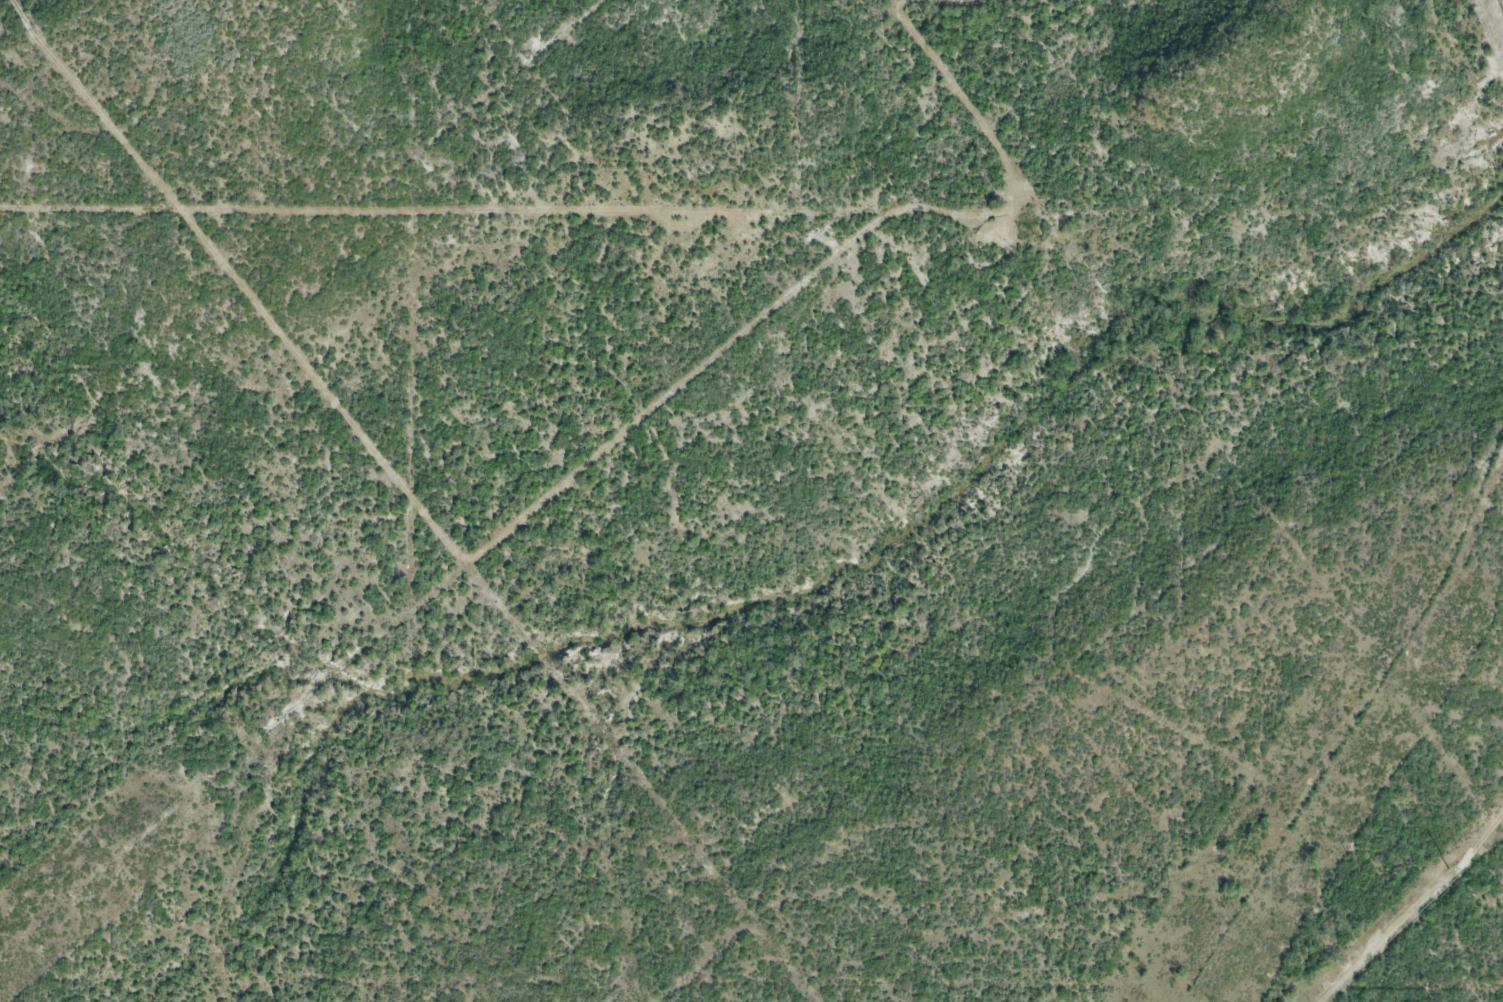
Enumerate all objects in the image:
power tower: (1448, 869)

